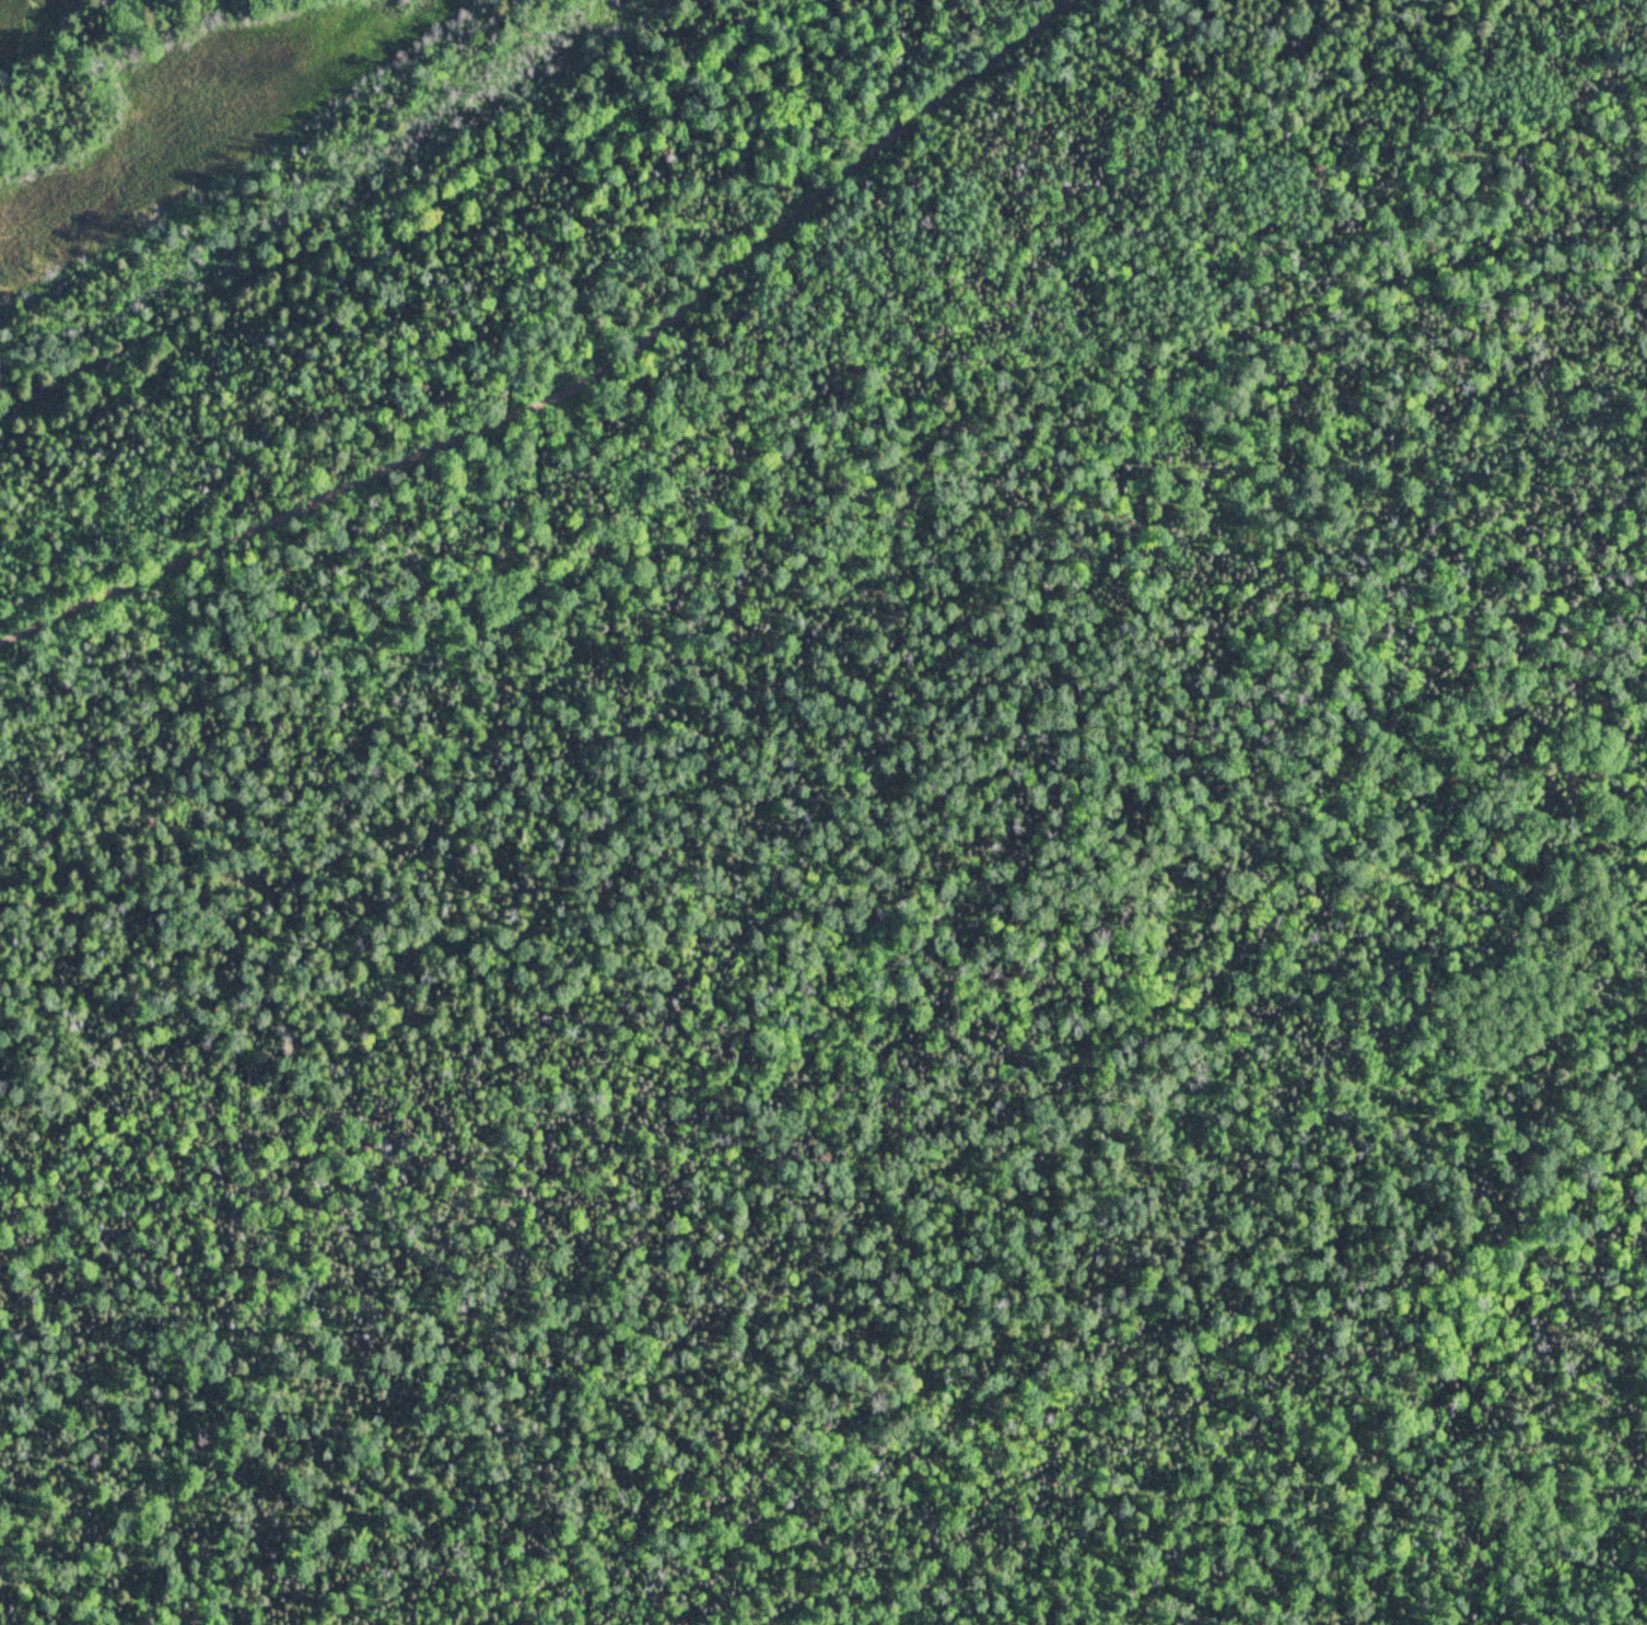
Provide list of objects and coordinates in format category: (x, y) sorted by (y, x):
road: (572, 383)

